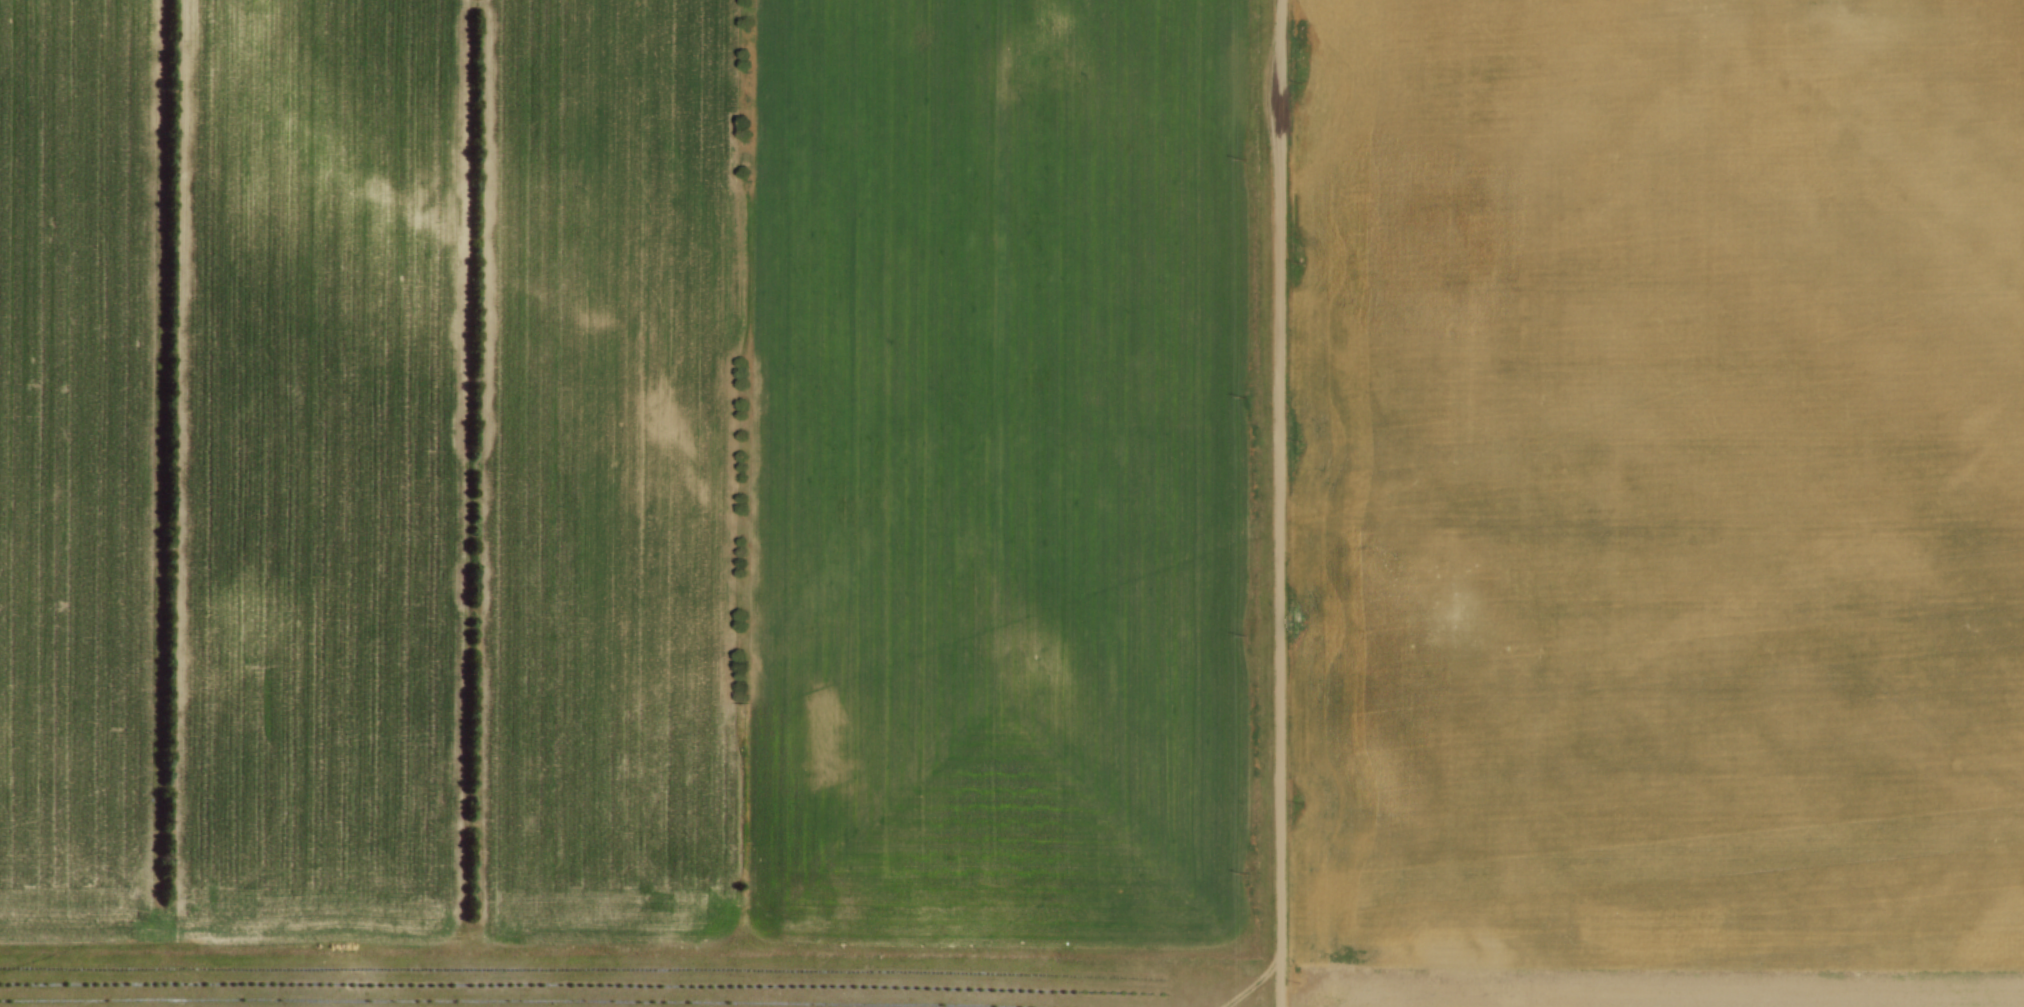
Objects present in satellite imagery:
crop: (629, 473)
road: (1277, 503)
crop: (1659, 504)

